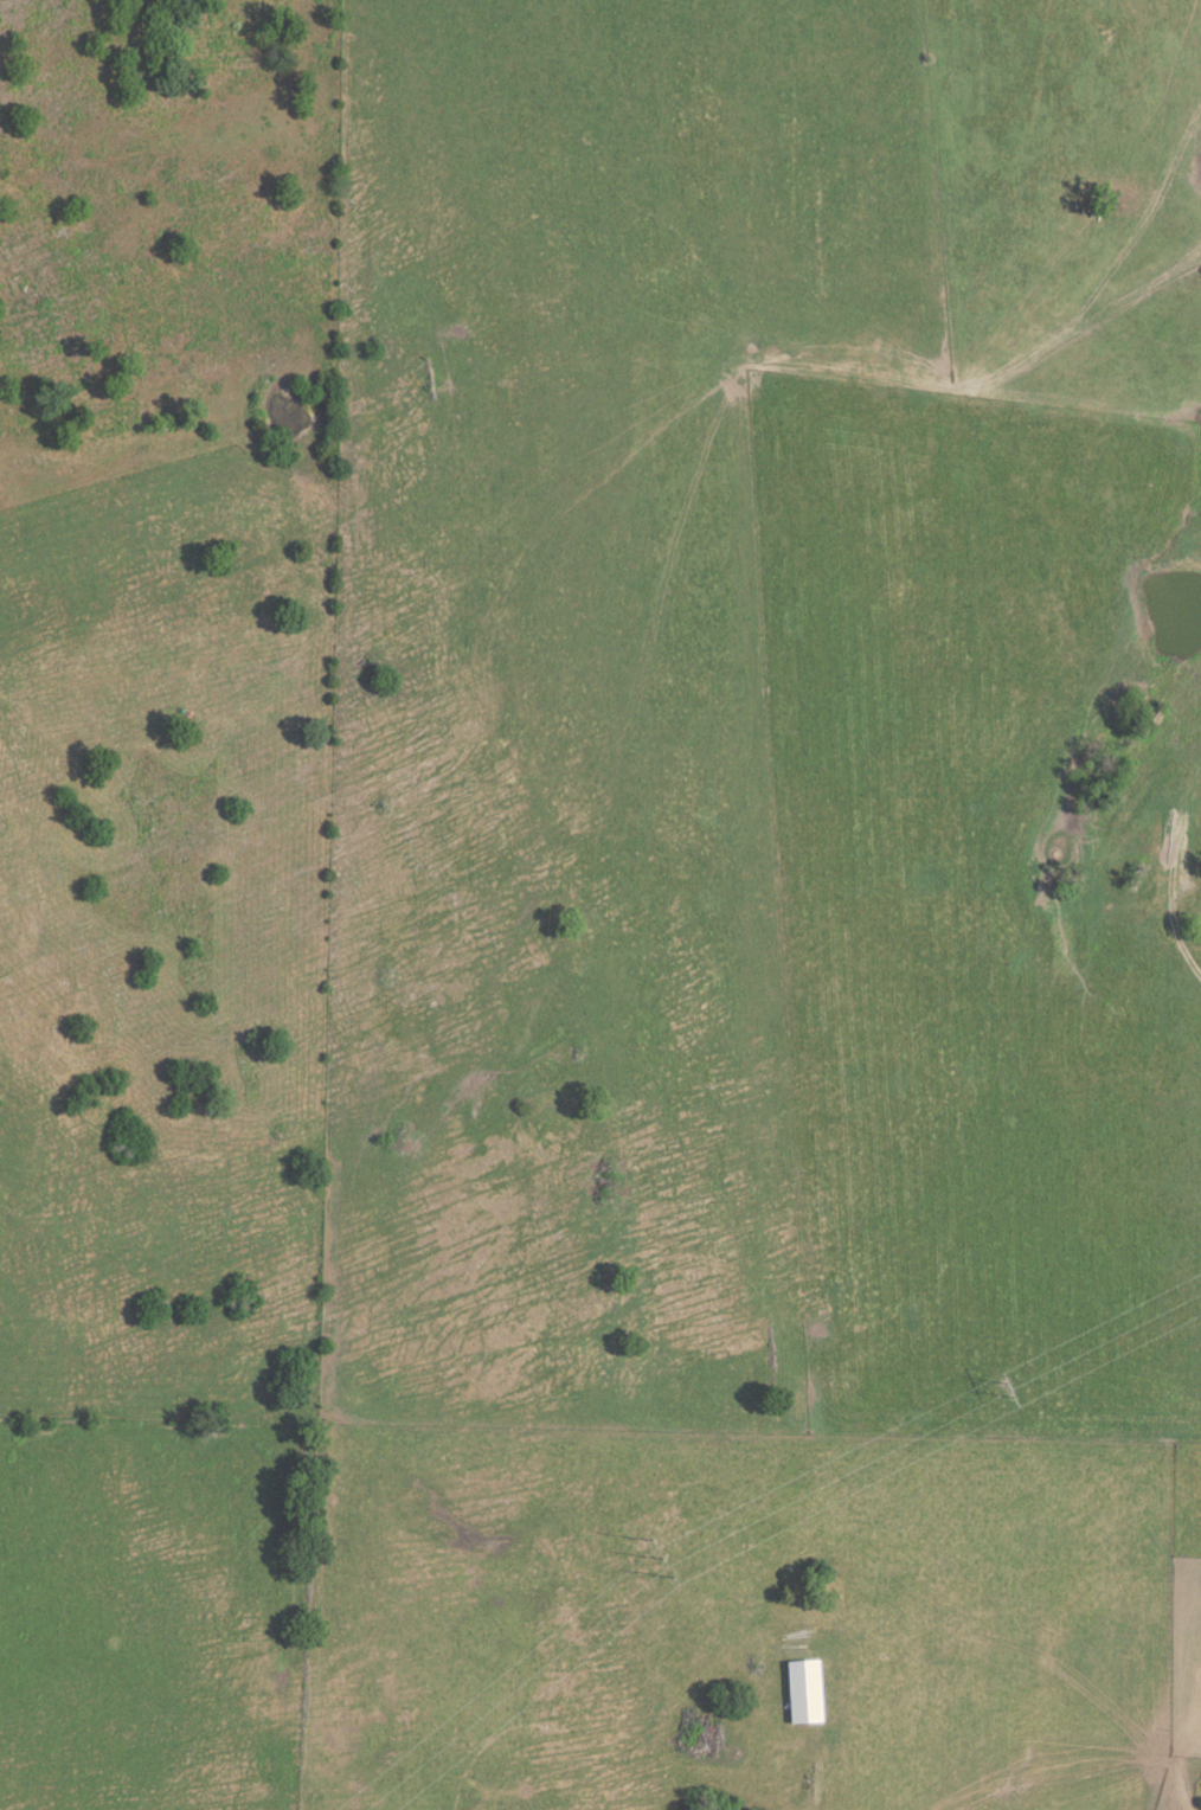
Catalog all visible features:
power tower: (1006, 1387)
power tower: (651, 1558)
building: (799, 1688)

